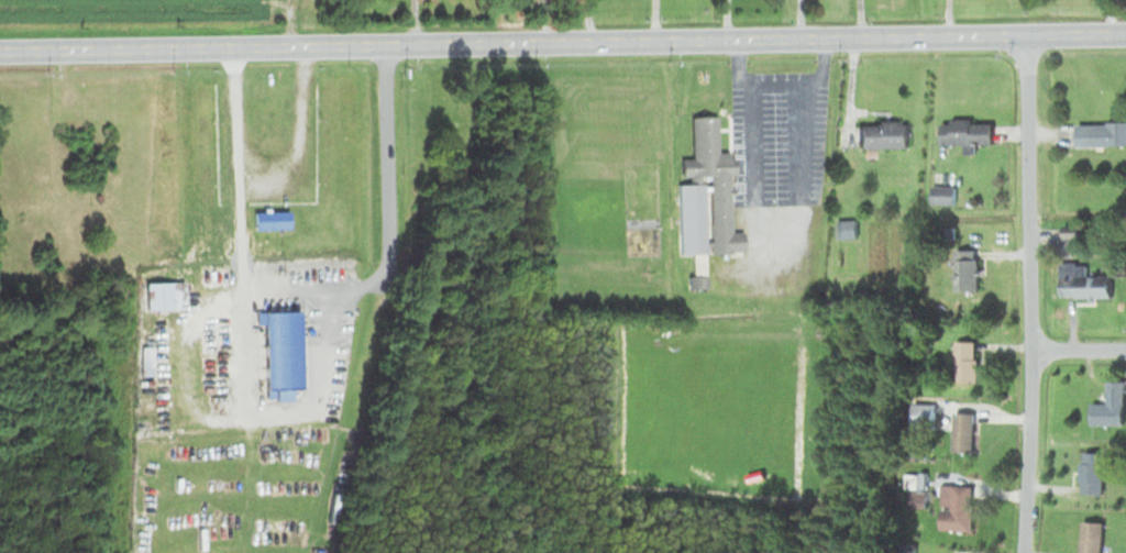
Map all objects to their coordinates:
road: (562, 40)
building: (964, 131)
building: (880, 133)
building: (1100, 133)
building: (948, 190)
building: (704, 200)
building: (268, 219)
building: (851, 223)
building: (844, 228)
building: (267, 259)
building: (963, 270)
building: (1080, 283)
road: (1025, 291)
building: (163, 294)
road: (1075, 343)
building: (279, 347)
building: (144, 360)
building: (963, 361)
building: (1107, 405)
building: (959, 430)
building: (1089, 471)
building: (914, 498)
building: (953, 507)
building: (1089, 535)

